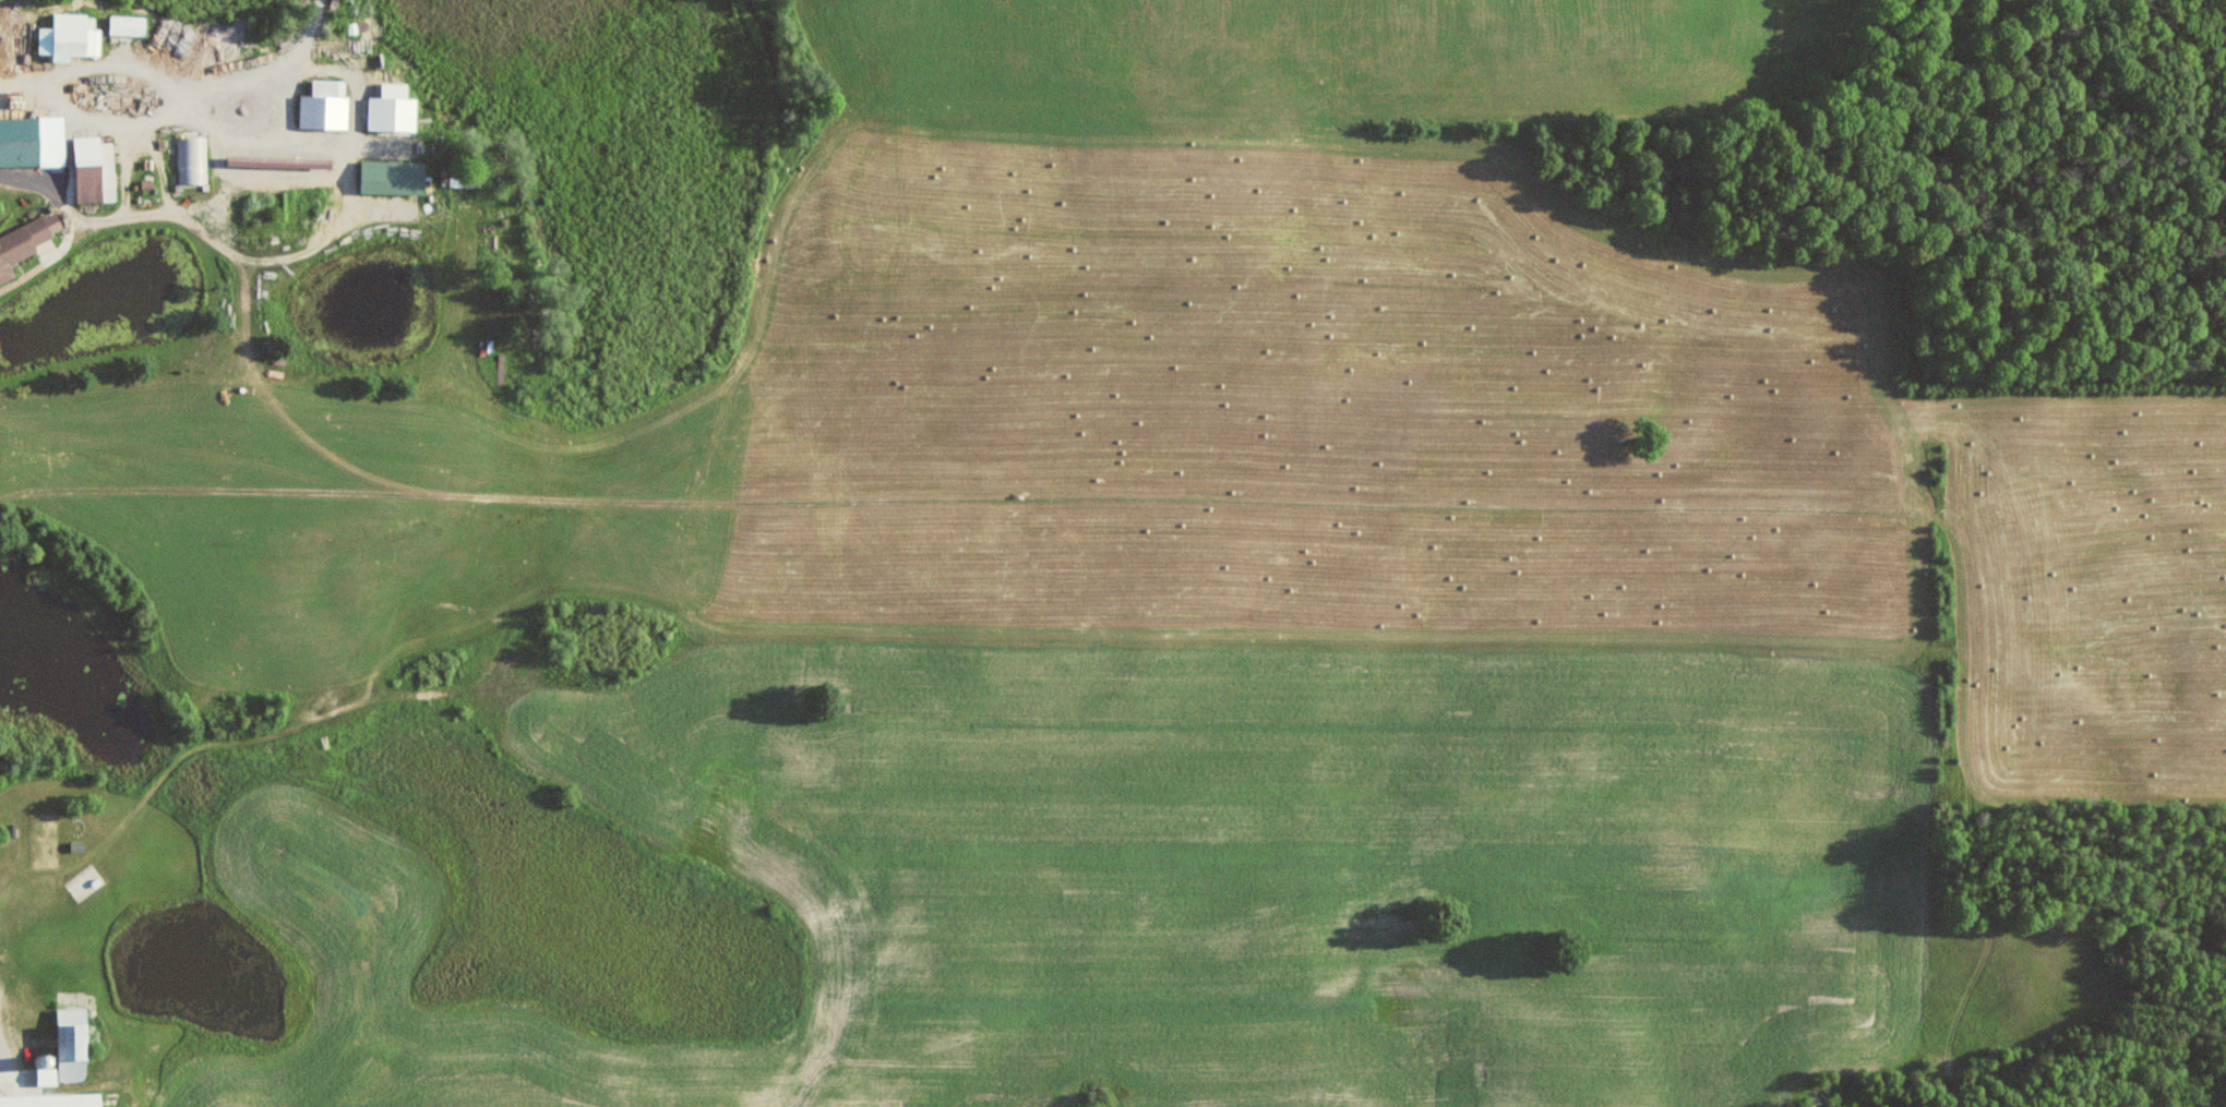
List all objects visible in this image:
building: (129, 26)
building: (71, 36)
building: (326, 105)
building: (394, 110)
building: (33, 141)
building: (88, 144)
building: (192, 160)
building: (97, 178)
building: (25, 242)
building: (73, 1045)
building: (53, 1100)

